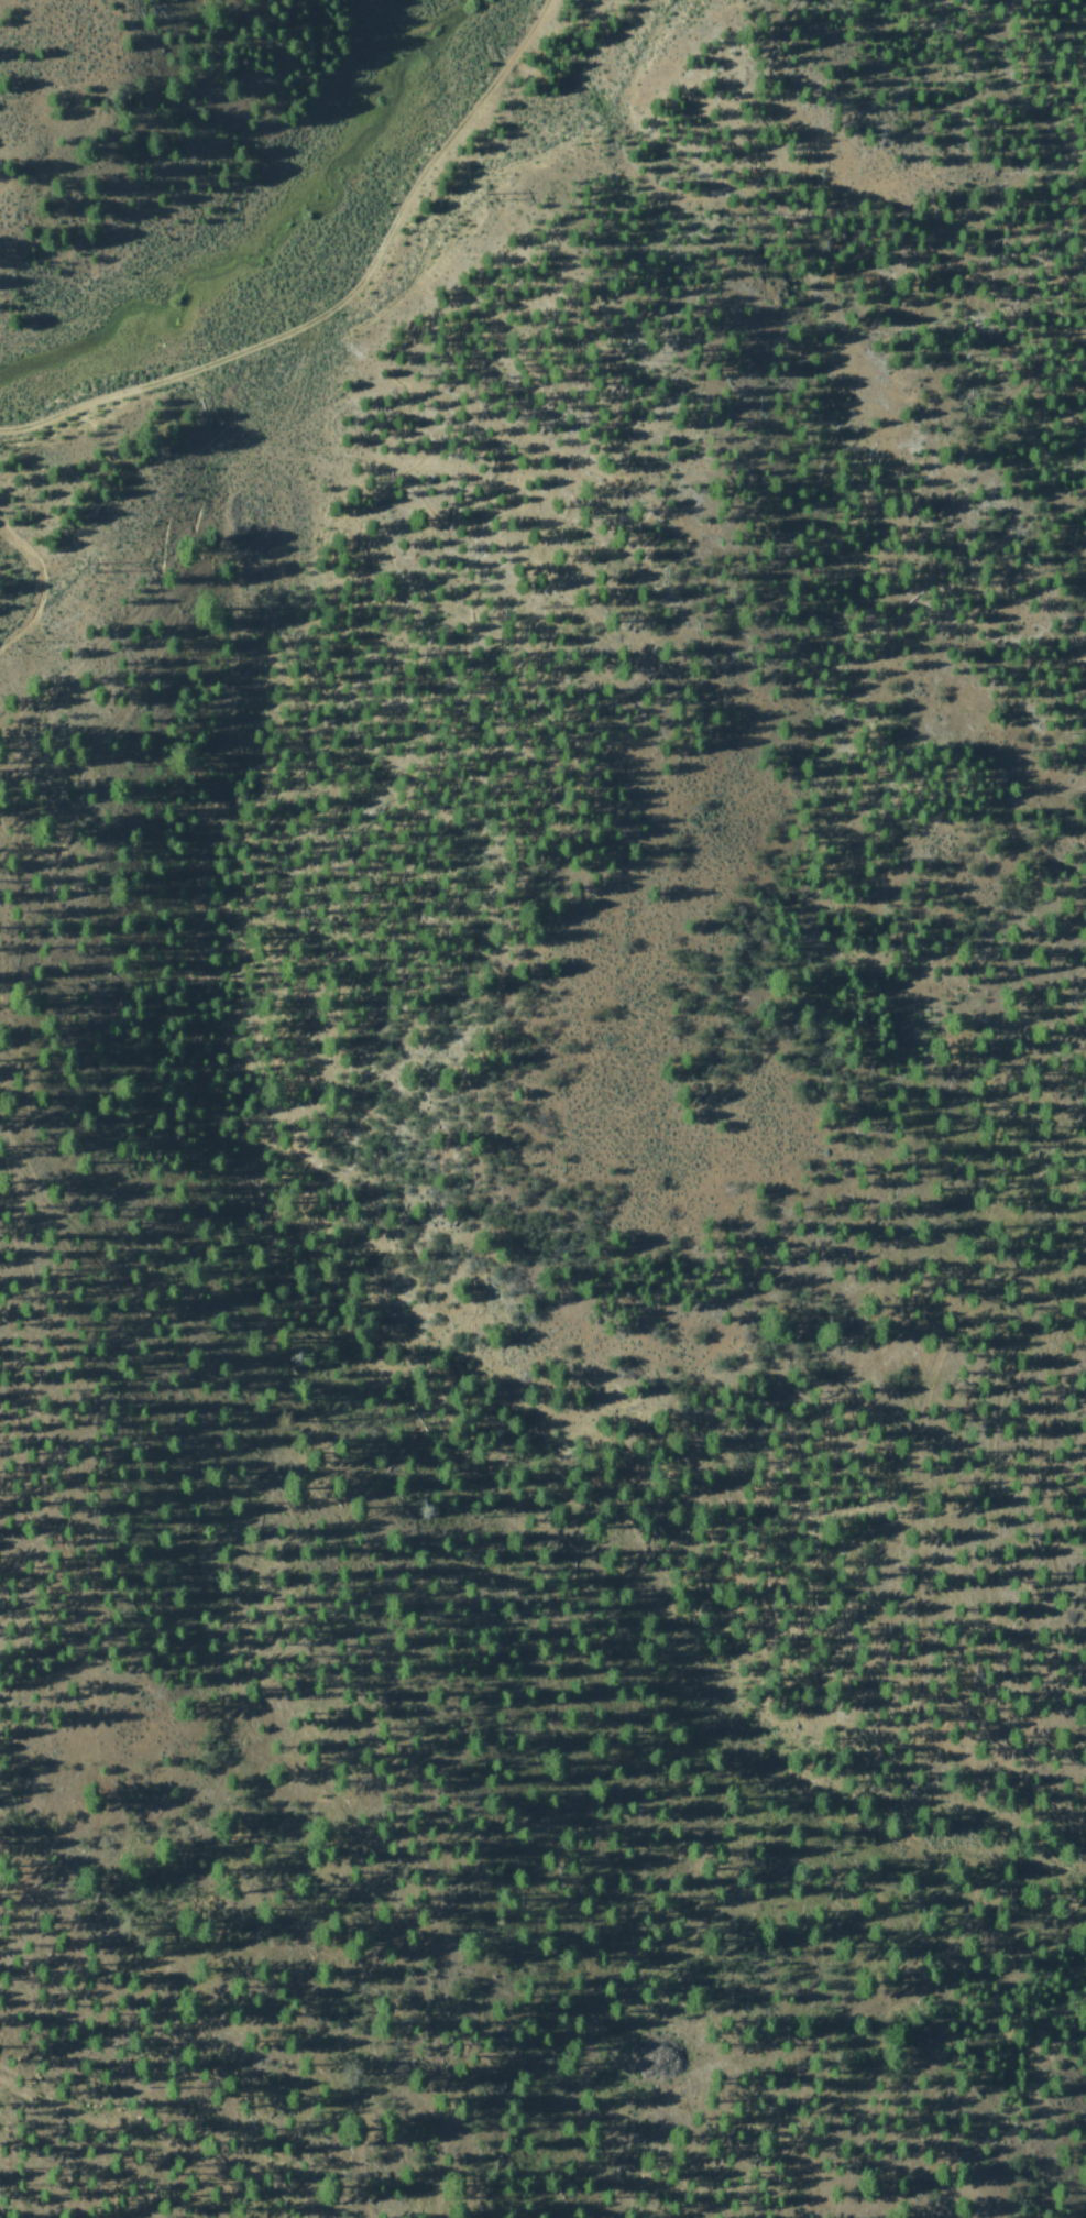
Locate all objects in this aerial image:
power tower: (501, 197)
power tower: (107, 571)

